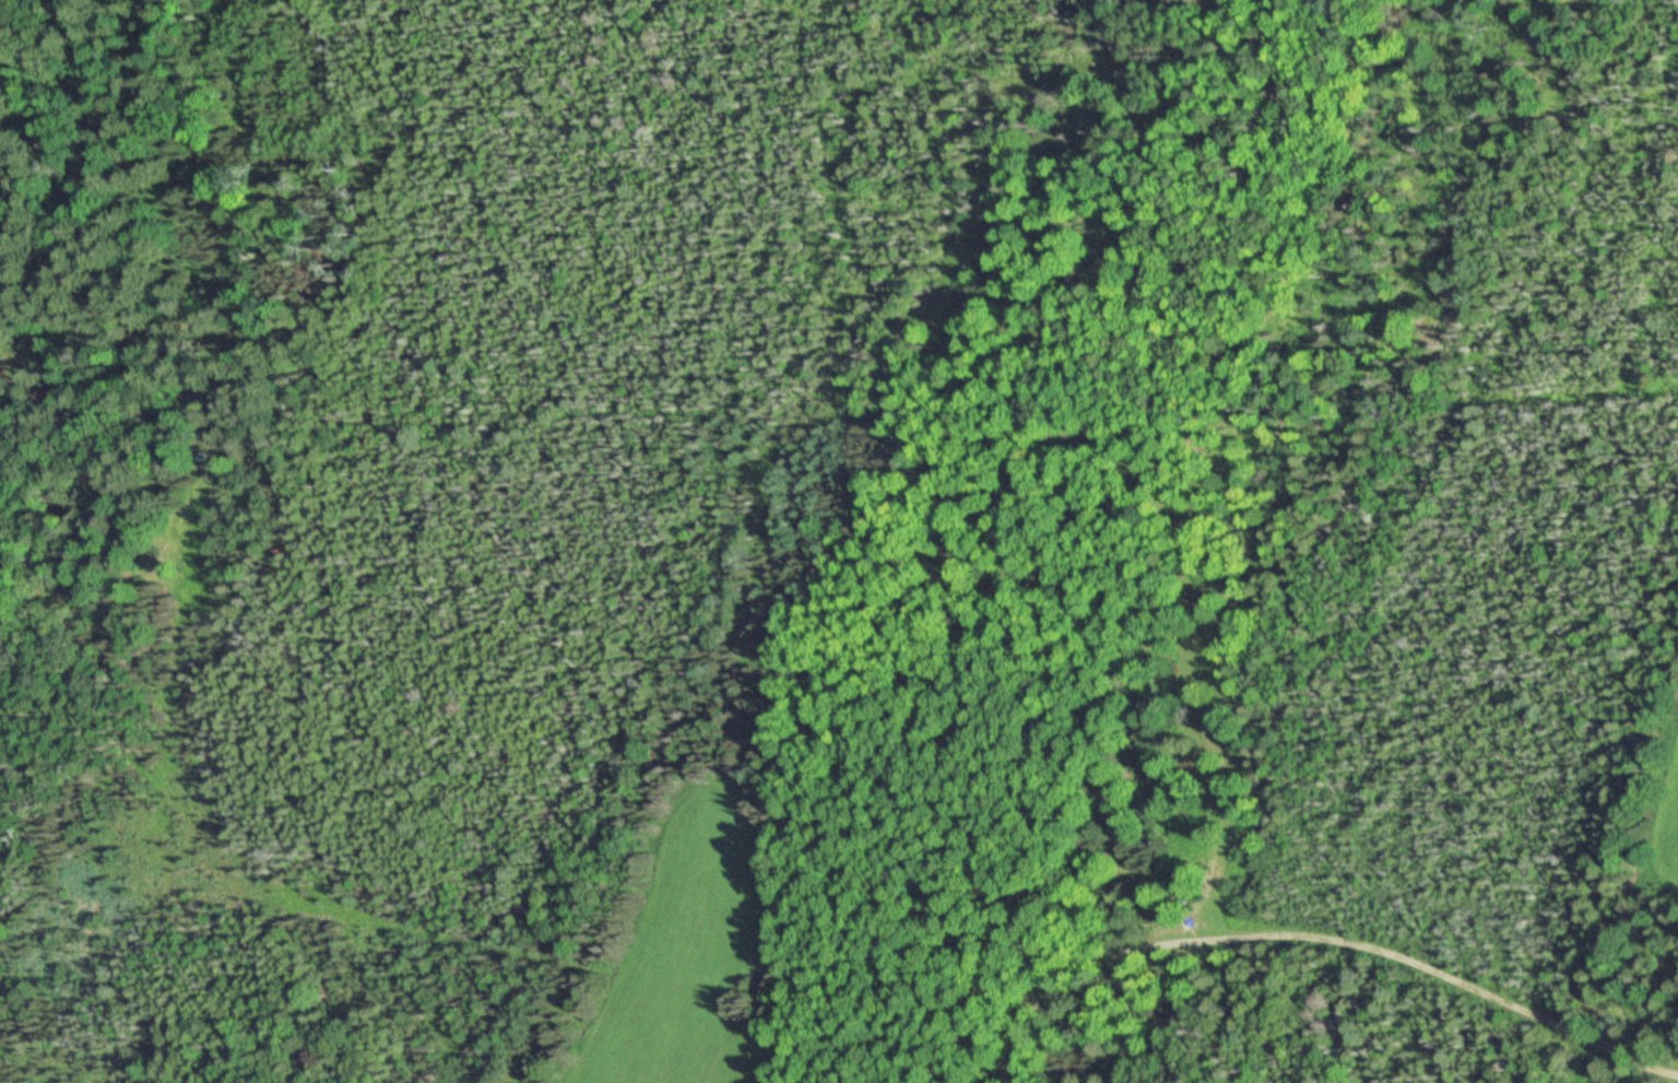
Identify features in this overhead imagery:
road: (1321, 937)

